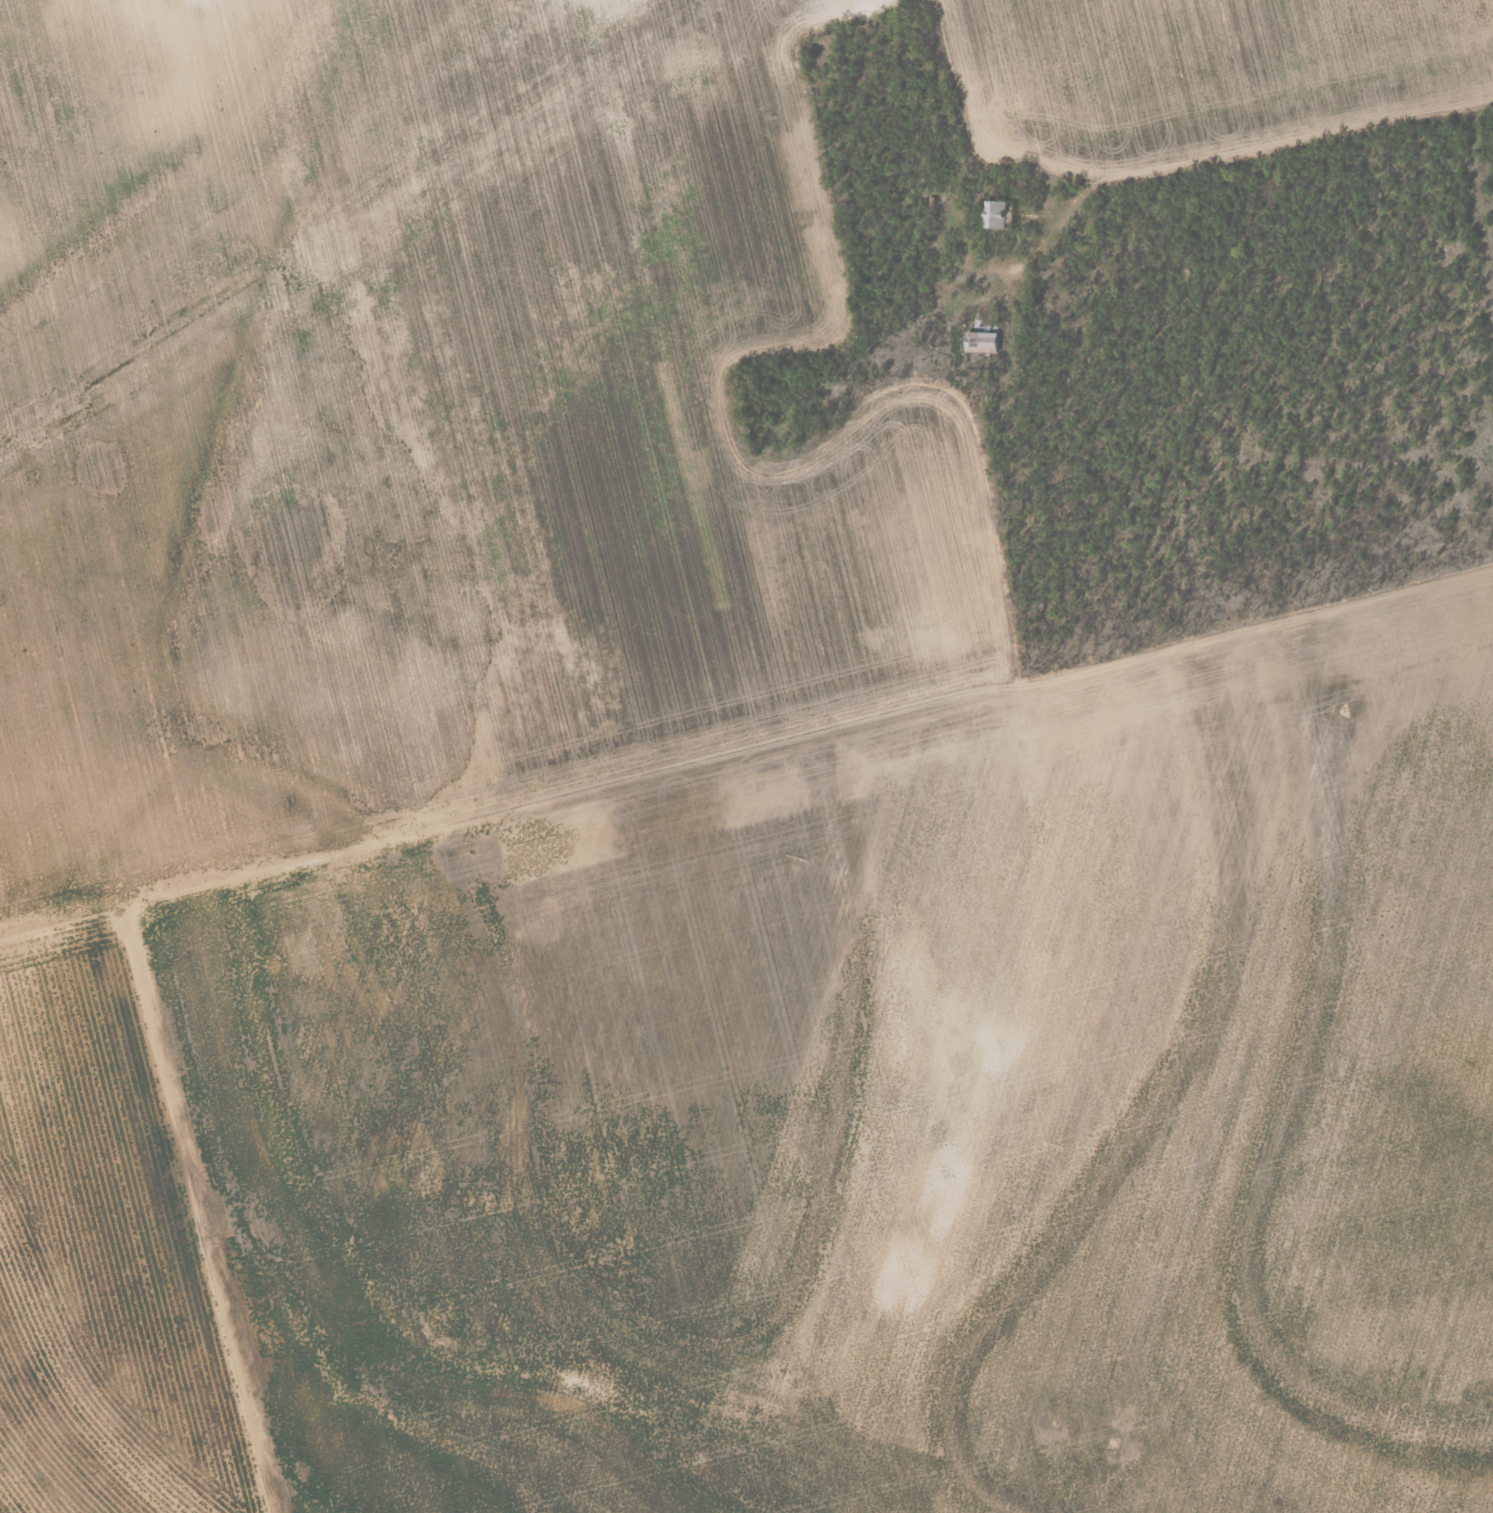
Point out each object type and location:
road: (1255, 148)

